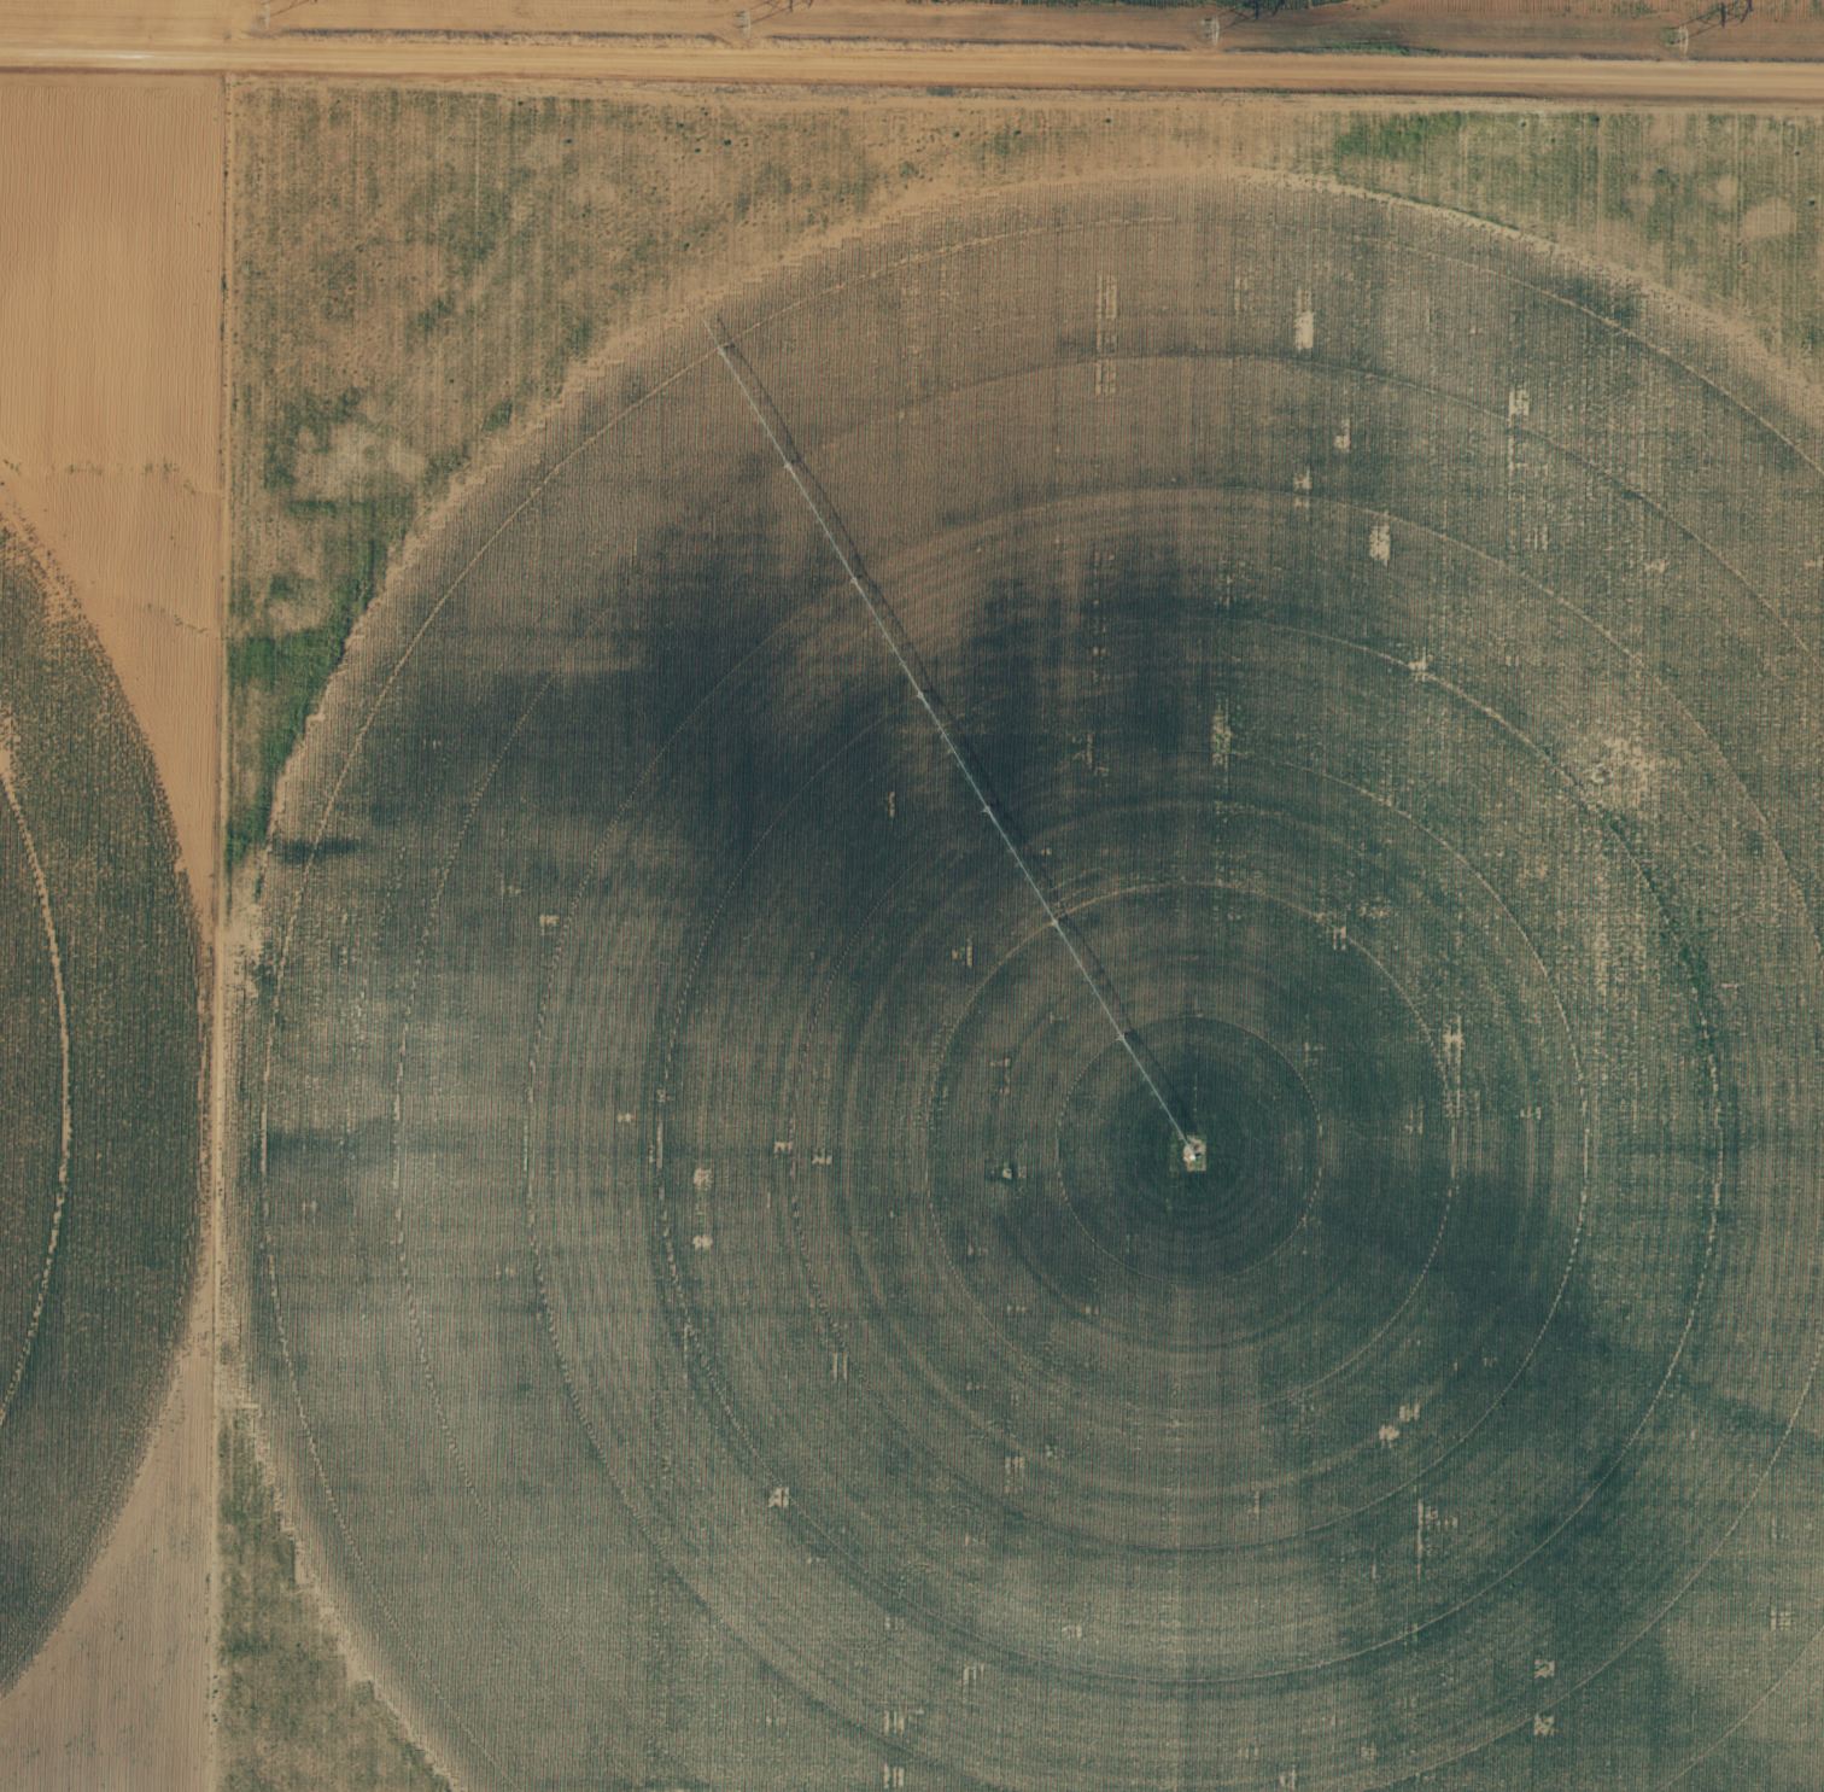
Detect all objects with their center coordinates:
power tower: (259, 10)
power tower: (739, 18)
power tower: (1204, 25)
power tower: (1666, 34)
road: (1183, 41)
road: (912, 80)
road: (204, 895)

